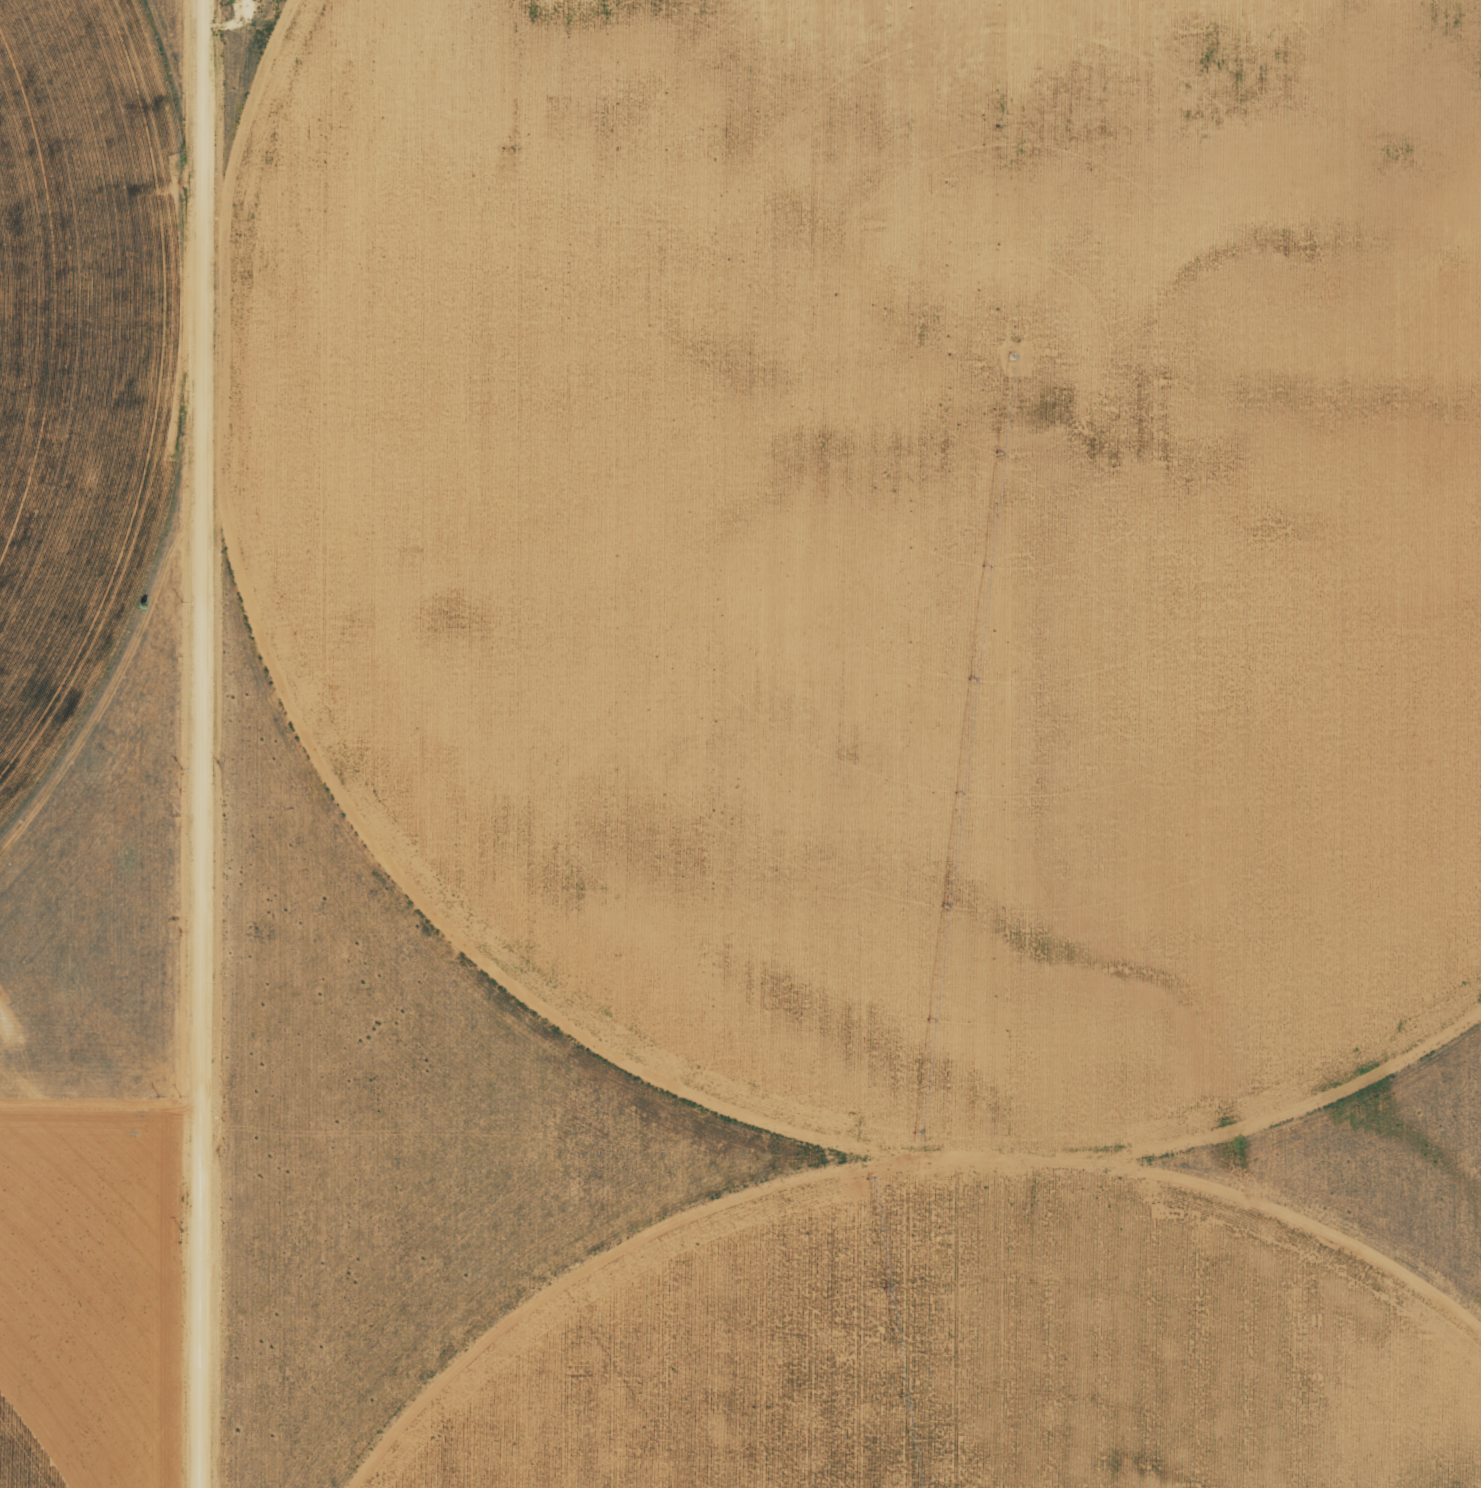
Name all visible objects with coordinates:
road: (224, 743)

